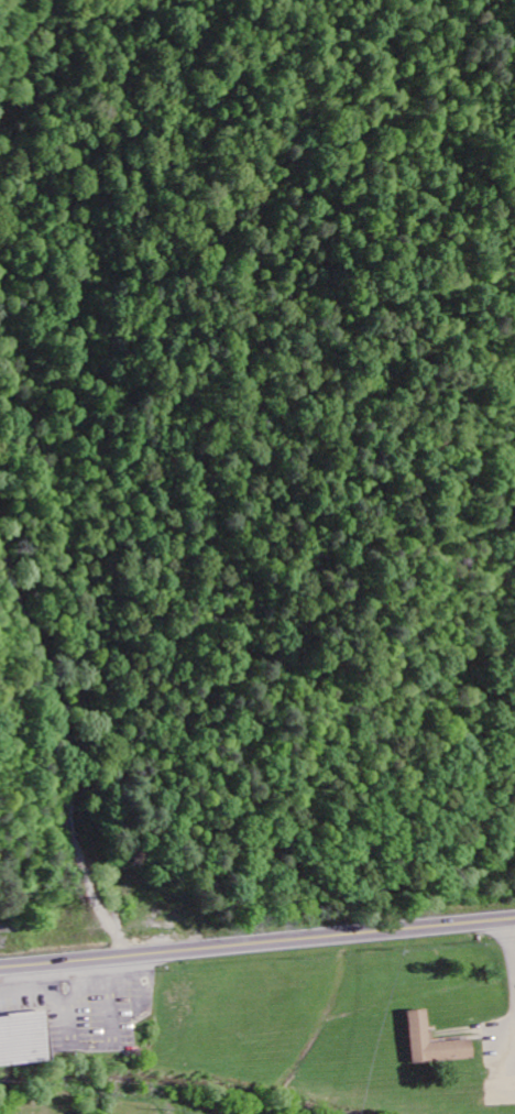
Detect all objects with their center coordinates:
road: (23, 46)
road: (75, 744)
road: (512, 942)
road: (257, 944)
building: (424, 1037)
building: (22, 1040)
parking lot: (511, 1082)

